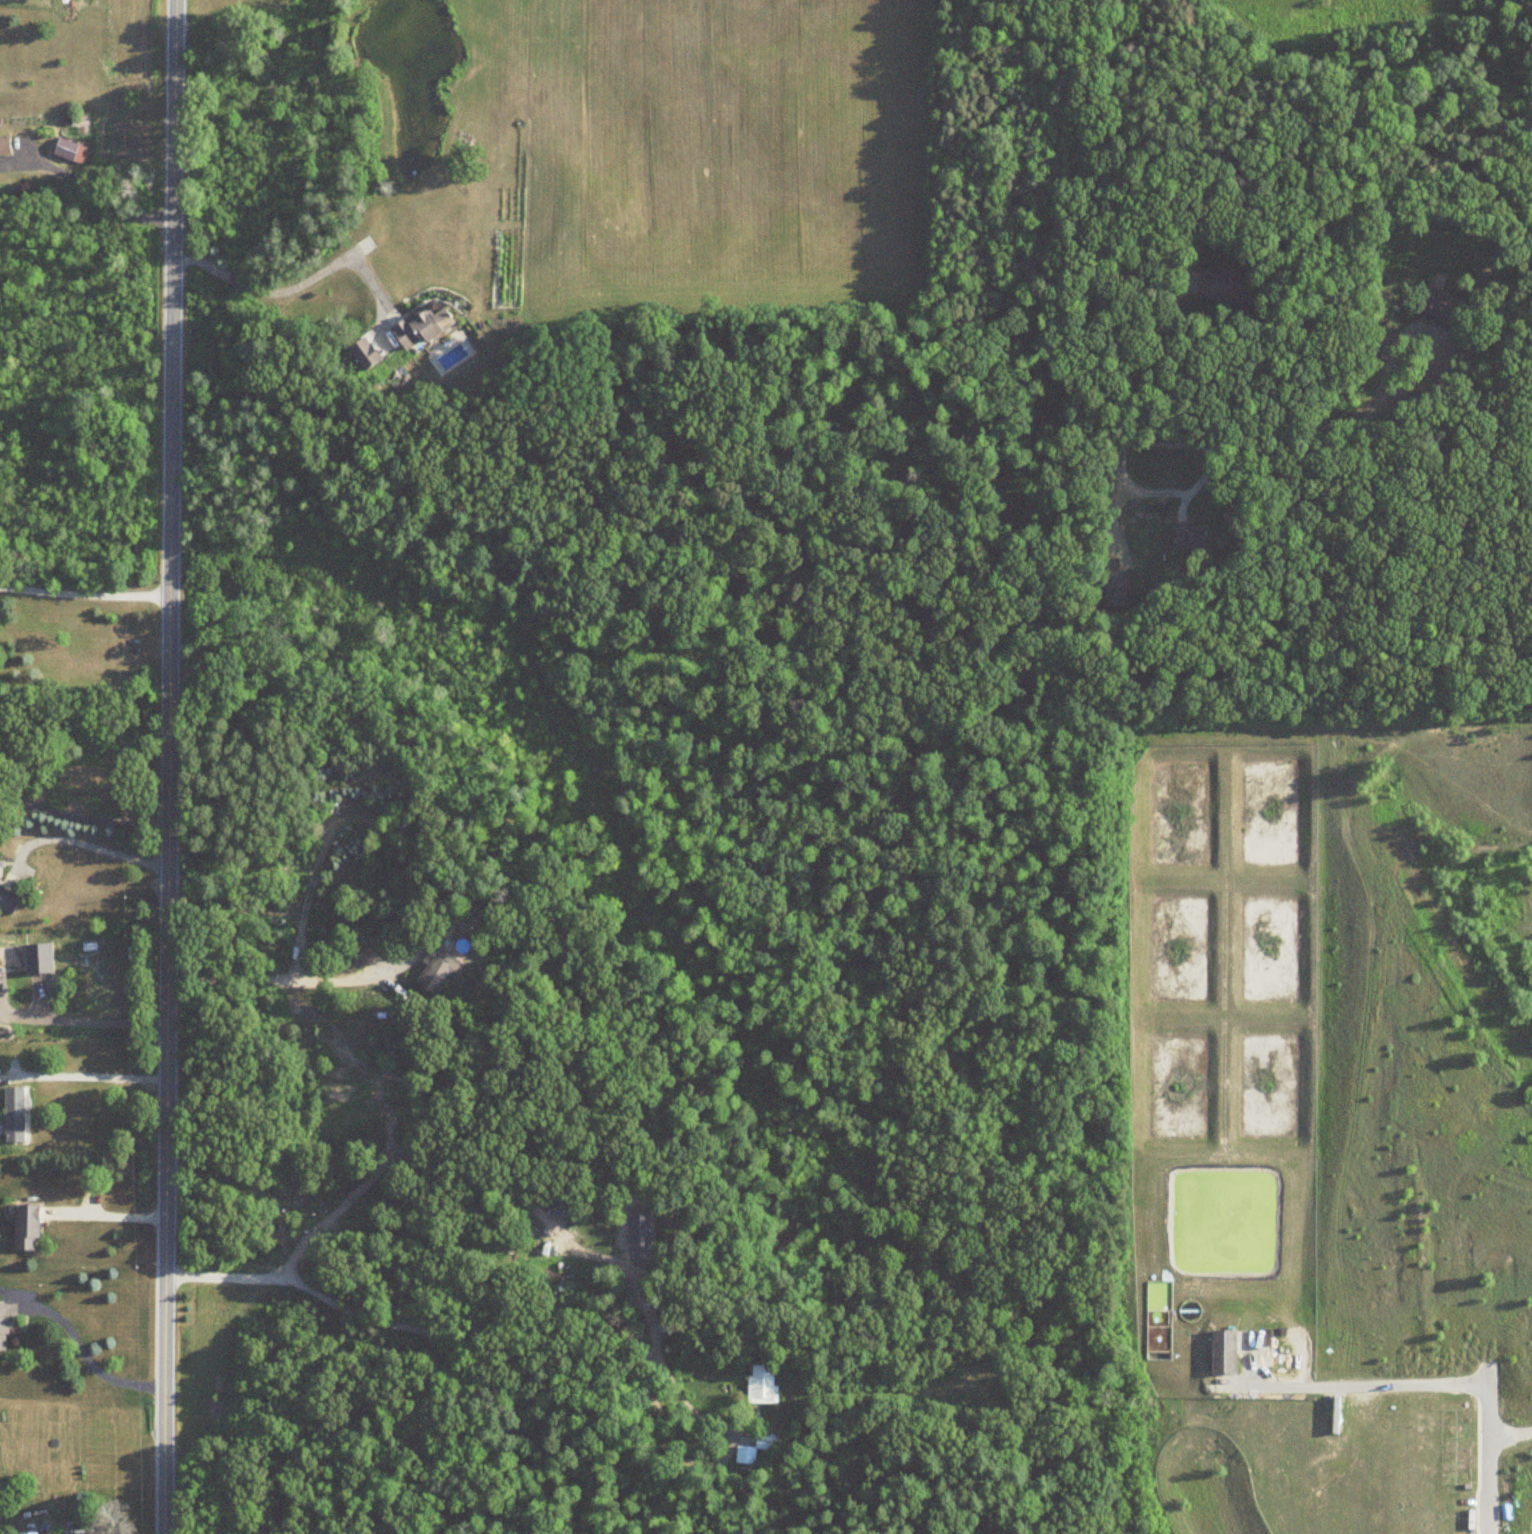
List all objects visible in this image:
building: (4, 145)
building: (69, 150)
road: (114, 207)
road: (1186, 284)
road: (288, 288)
building: (1223, 288)
building: (1439, 304)
building: (419, 328)
road: (1425, 335)
road: (1107, 347)
building: (363, 354)
building: (1188, 538)
building: (1114, 589)
road: (82, 592)
road: (166, 766)
road: (81, 817)
building: (370, 823)
road: (93, 845)
building: (1, 862)
building: (8, 900)
road: (290, 958)
building: (437, 969)
road: (342, 974)
road: (83, 1020)
road: (97, 1075)
building: (14, 1113)
road: (112, 1209)
building: (26, 1226)
building: (2, 1325)
building: (1223, 1351)
road: (562, 1354)
road: (85, 1355)
building: (761, 1383)
road: (1344, 1392)
road: (1510, 1432)
building: (756, 1447)
road: (1488, 1456)
building: (74, 1532)
building: (27, 1533)

